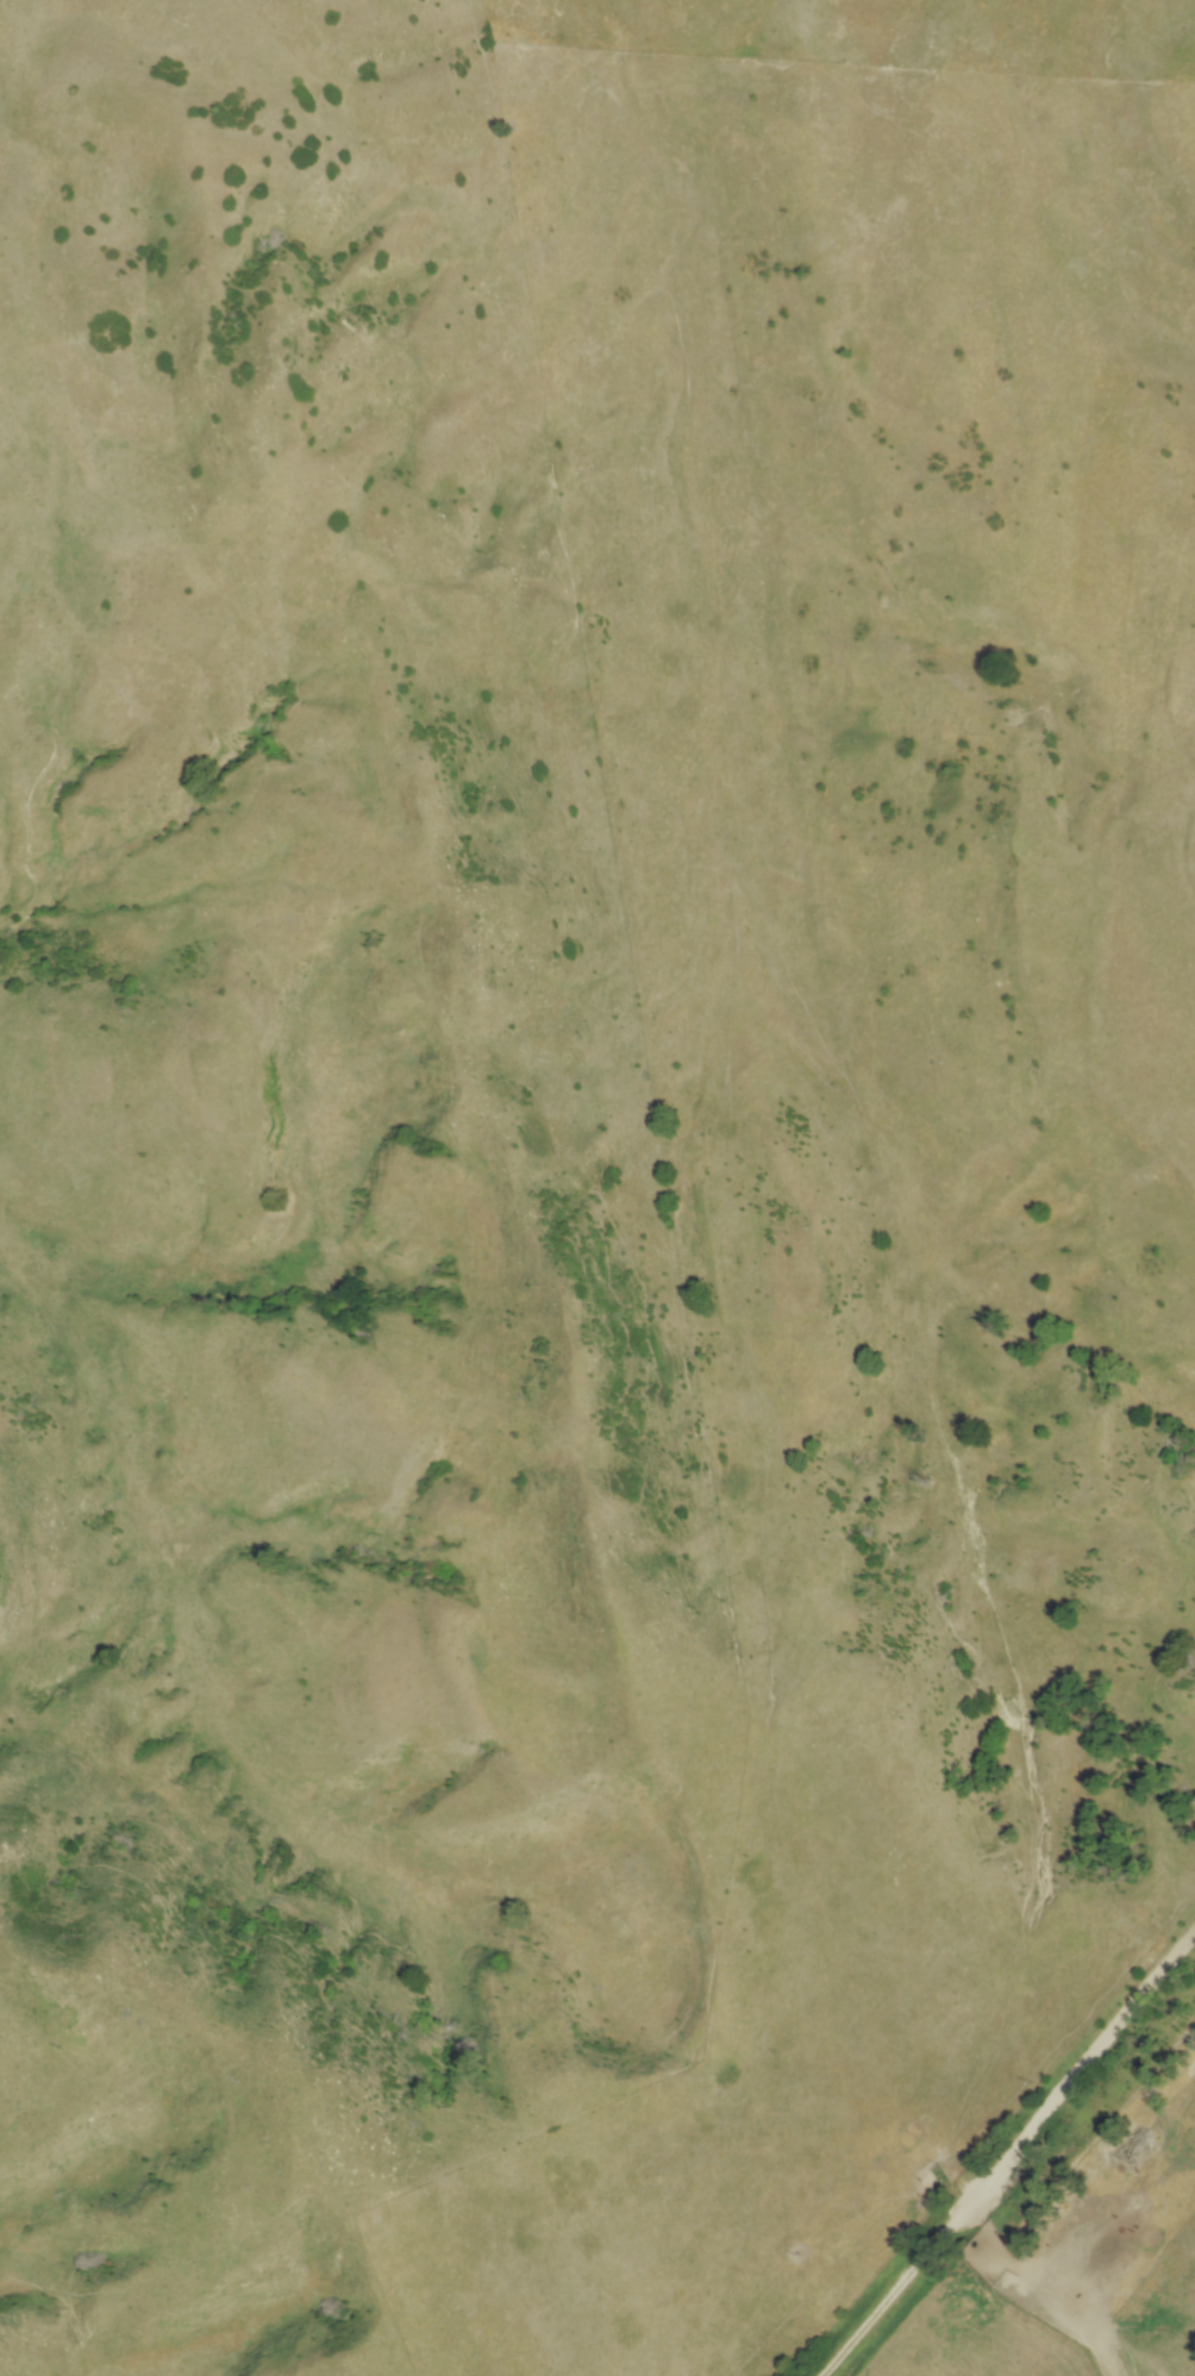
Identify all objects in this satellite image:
road: (1008, 2155)

